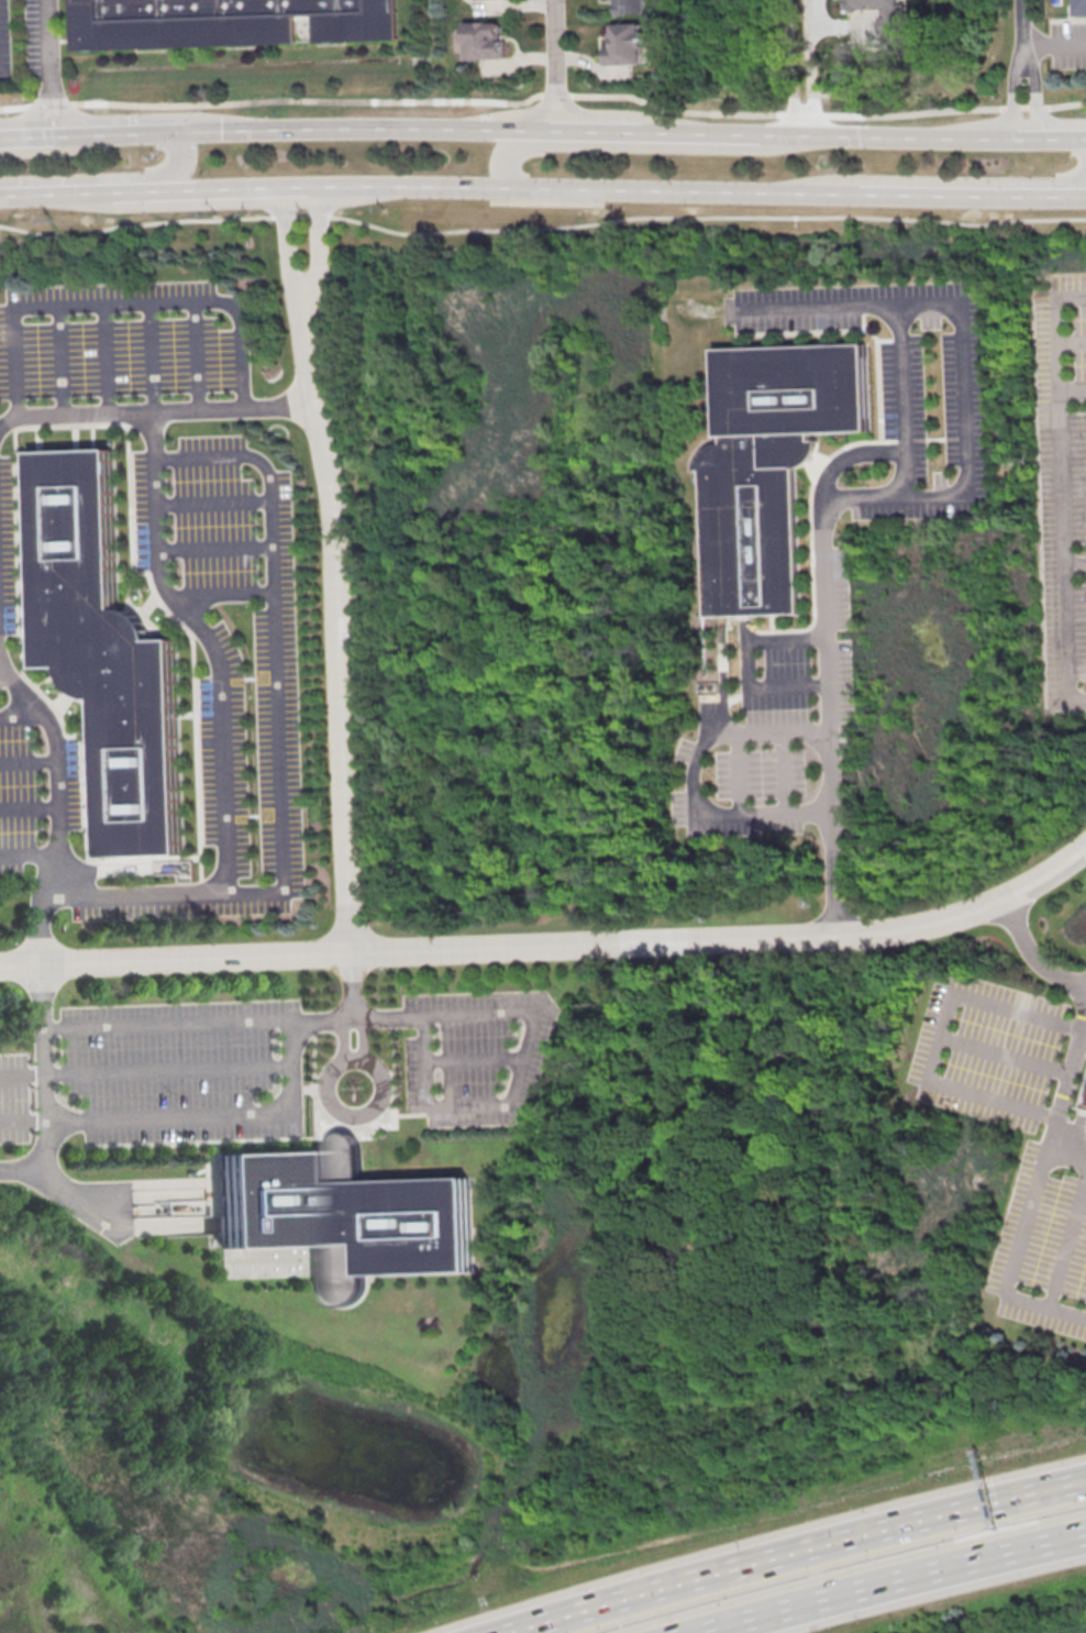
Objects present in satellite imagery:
building: (631, 5)
building: (1081, 8)
building: (887, 15)
building: (229, 23)
road: (1023, 23)
parking lot: (40, 36)
building: (484, 40)
parking lot: (3, 42)
building: (625, 44)
road: (1055, 45)
parking lot: (1067, 45)
road: (555, 64)
road: (791, 67)
road: (48, 68)
road: (1013, 90)
road: (1037, 90)
road: (543, 95)
road: (597, 129)
road: (368, 131)
road: (698, 132)
traffic signals: (180, 133)
road: (115, 134)
road: (886, 134)
road: (1049, 135)
road: (25, 136)
road: (507, 152)
road: (177, 168)
road: (217, 188)
road: (574, 188)
road: (1077, 188)
road: (73, 192)
road: (965, 194)
road: (1077, 194)
road: (540, 227)
road: (289, 241)
road: (320, 242)
road: (118, 302)
road: (1070, 342)
road: (962, 353)
road: (195, 354)
road: (102, 357)
road: (56, 360)
road: (148, 379)
road: (1071, 388)
road: (155, 410)
building: (775, 465)
road: (905, 474)
road: (1059, 487)
road: (211, 501)
road: (213, 548)
road: (1074, 563)
parking lot: (166, 583)
road: (821, 586)
road: (222, 593)
road: (336, 621)
building: (100, 648)
road: (747, 662)
road: (218, 664)
road: (22, 716)
road: (278, 737)
road: (29, 762)
road: (786, 773)
road: (739, 774)
road: (692, 775)
road: (30, 808)
road: (30, 853)
road: (553, 945)
road: (42, 947)
road: (1032, 953)
road: (351, 978)
road: (191, 1023)
road: (363, 1030)
road: (342, 1031)
road: (938, 1034)
road: (1002, 1052)
road: (523, 1053)
parking lot: (475, 1055)
road: (473, 1059)
road: (354, 1061)
parking lot: (186, 1069)
road: (169, 1070)
road: (22, 1075)
road: (1064, 1081)
road: (214, 1114)
road: (23, 1123)
road: (23, 1166)
building: (345, 1215)
road: (1065, 1237)
road: (1017, 1243)
road: (1050, 1490)
road: (761, 1562)
road: (893, 1581)

